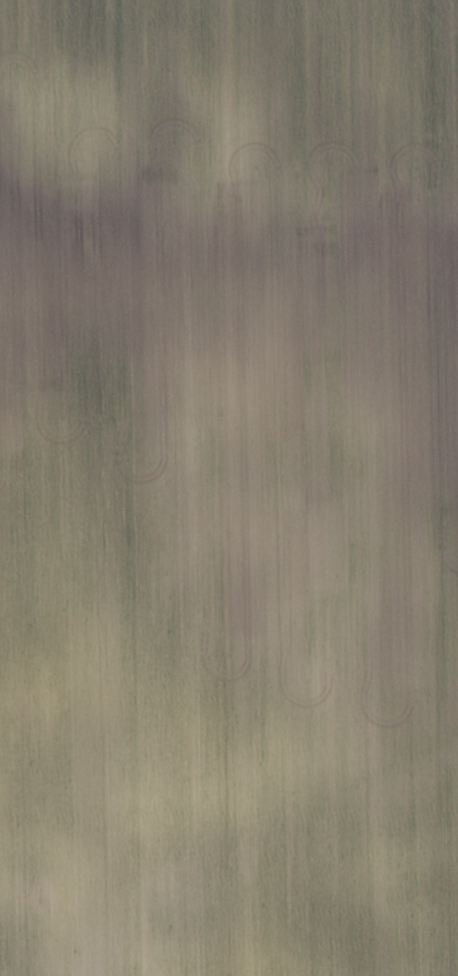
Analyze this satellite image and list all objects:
crop: (229, 488)

